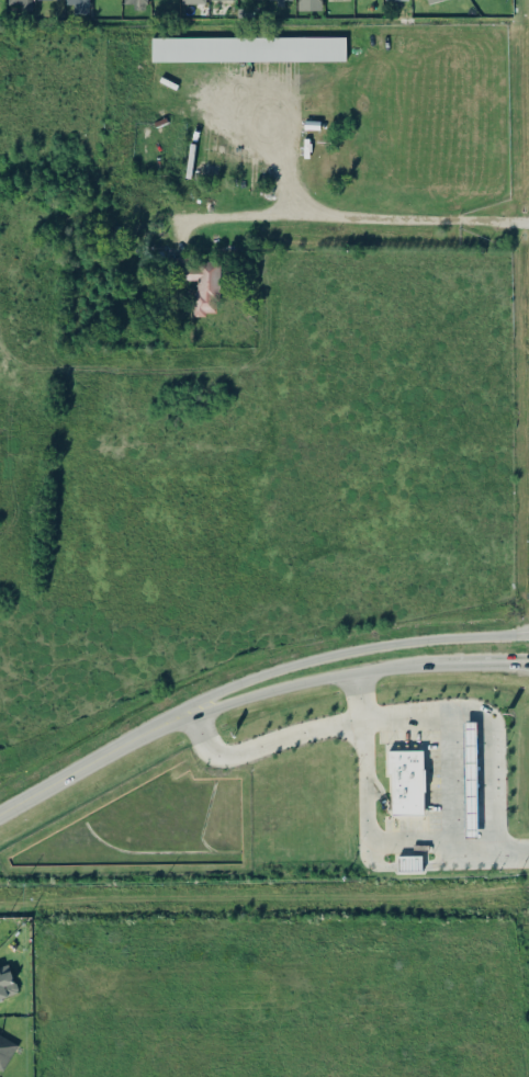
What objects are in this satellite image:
building: (214, 0)
building: (277, 0)
building: (395, 0)
building: (136, 1)
building: (193, 1)
building: (430, 1)
building: (22, 3)
building: (309, 4)
building: (79, 5)
building: (248, 48)
road: (284, 159)
road: (359, 215)
building: (201, 282)
crop: (243, 351)
road: (295, 666)
road: (487, 670)
road: (430, 671)
road: (285, 689)
road: (361, 699)
road: (418, 714)
road: (491, 761)
road: (38, 771)
building: (470, 780)
gas station: (470, 780)
building: (405, 781)
road: (80, 782)
road: (365, 821)
building: (409, 863)
building: (7, 983)
building: (5, 1050)

